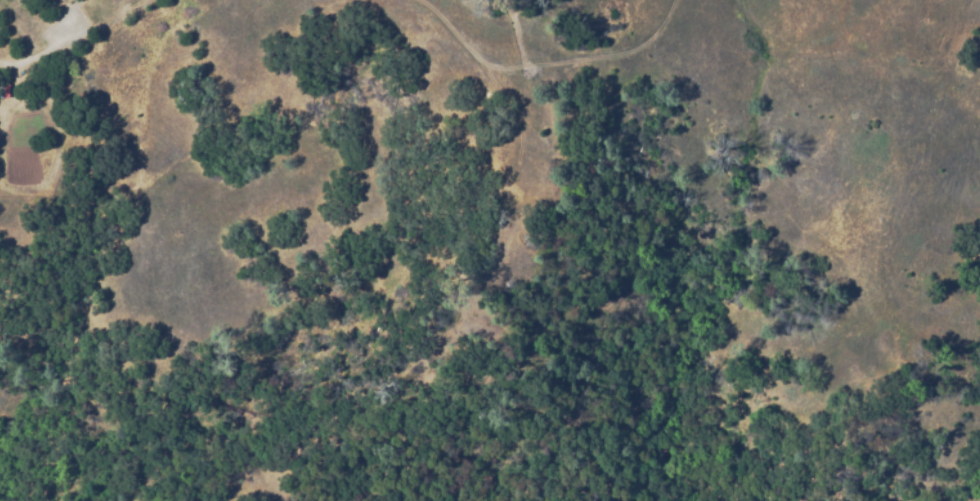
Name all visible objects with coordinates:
building: (3, 93)

